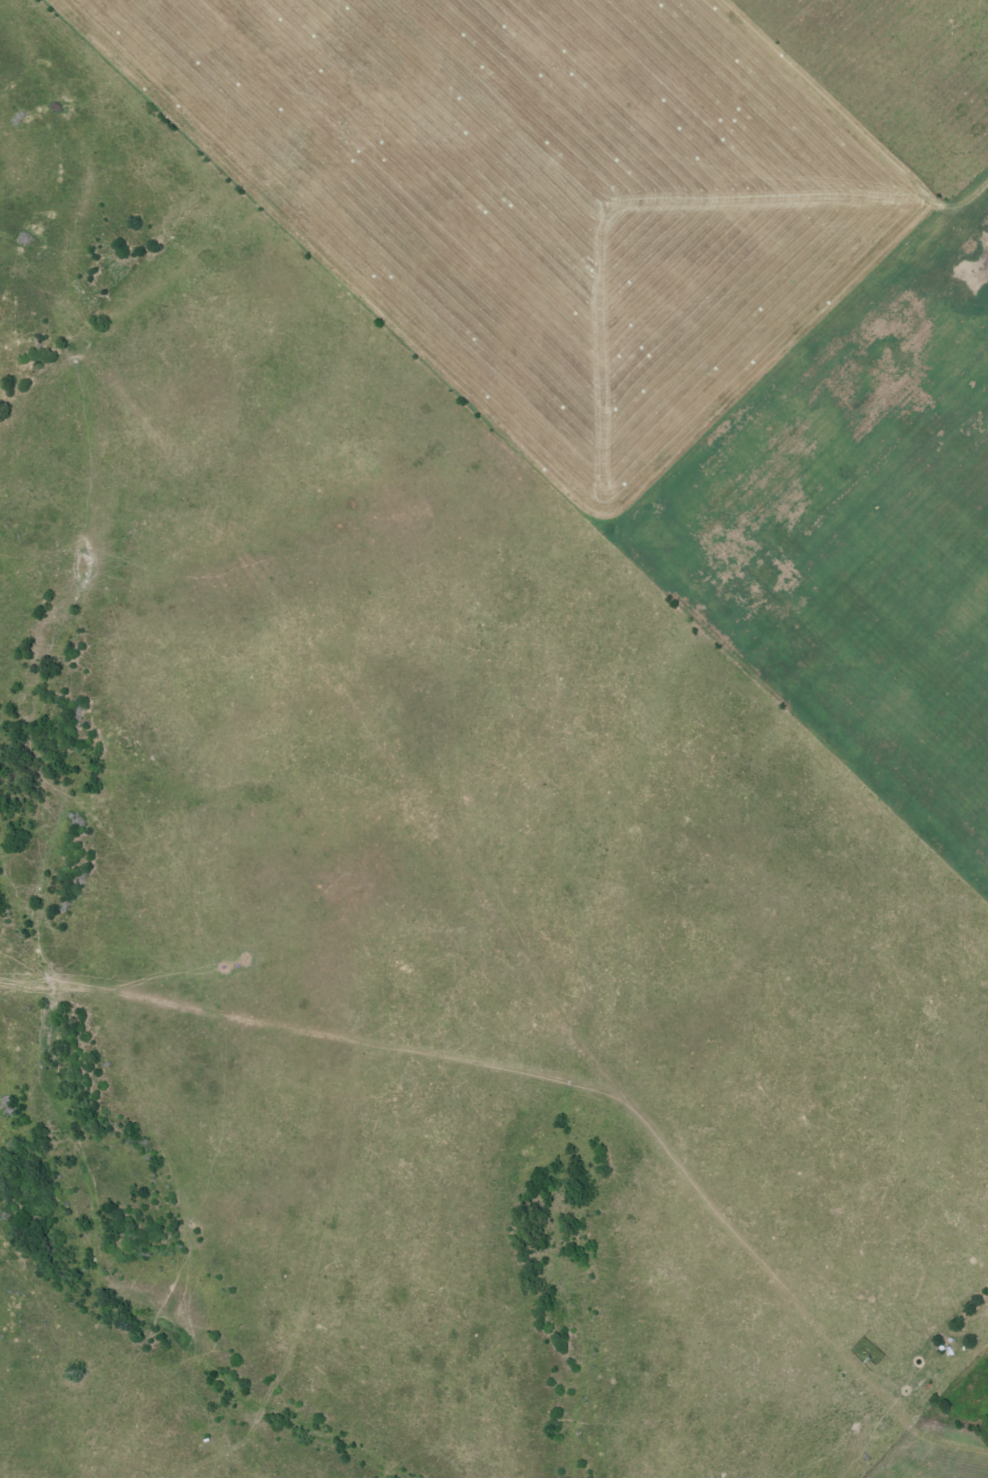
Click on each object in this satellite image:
road: (817, 1318)

